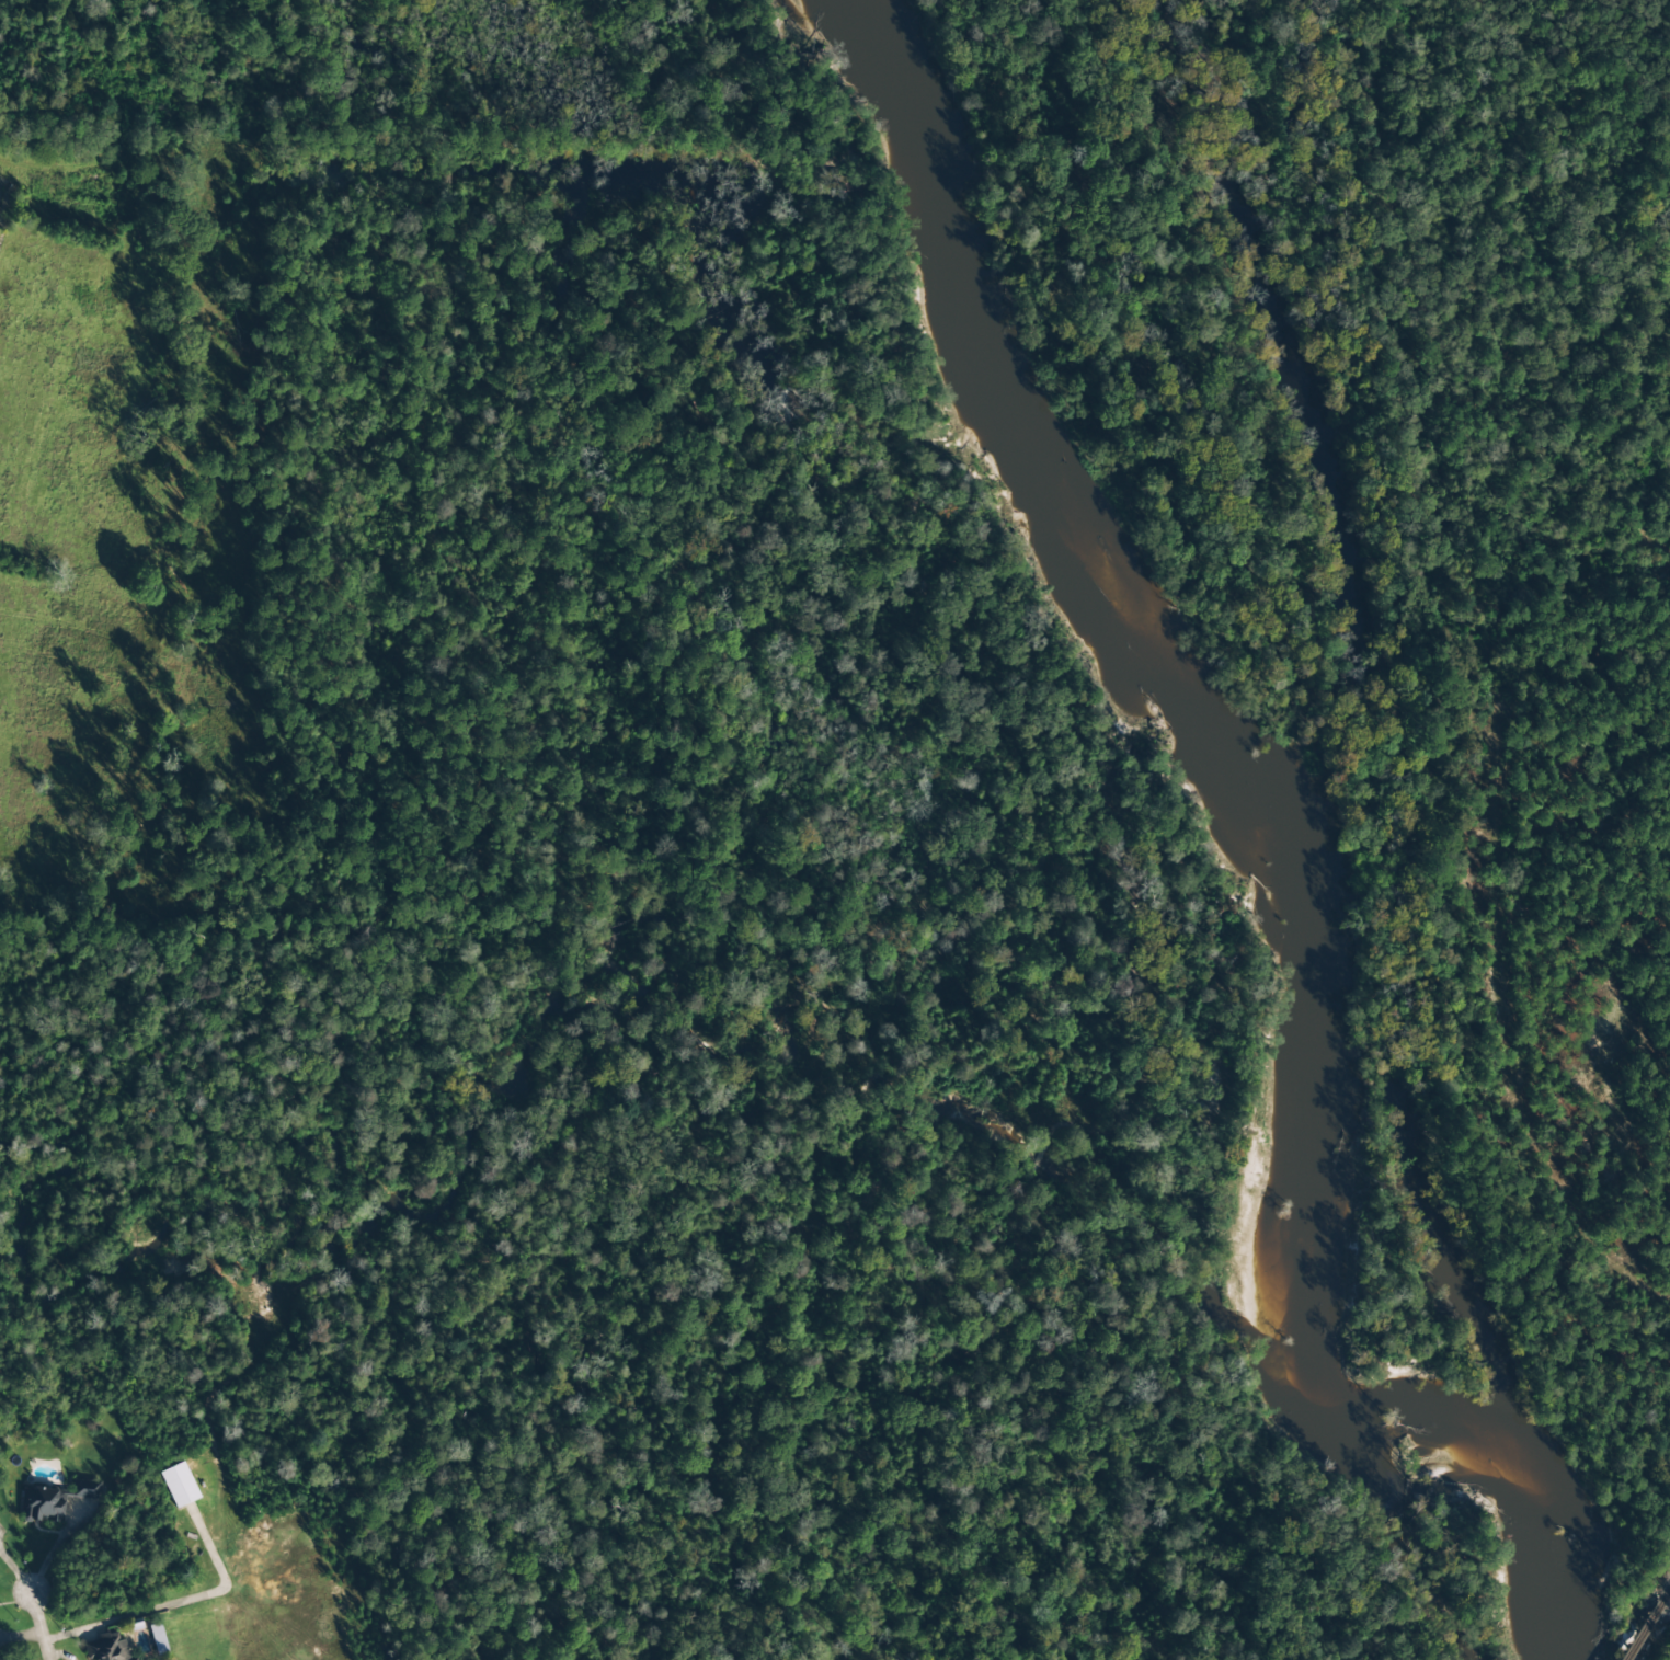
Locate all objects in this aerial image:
road: (1491, 889)
building: (179, 1486)
building: (56, 1500)
railway: (1667, 1595)
road: (34, 1628)
railway: (1645, 1629)
building: (106, 1648)

